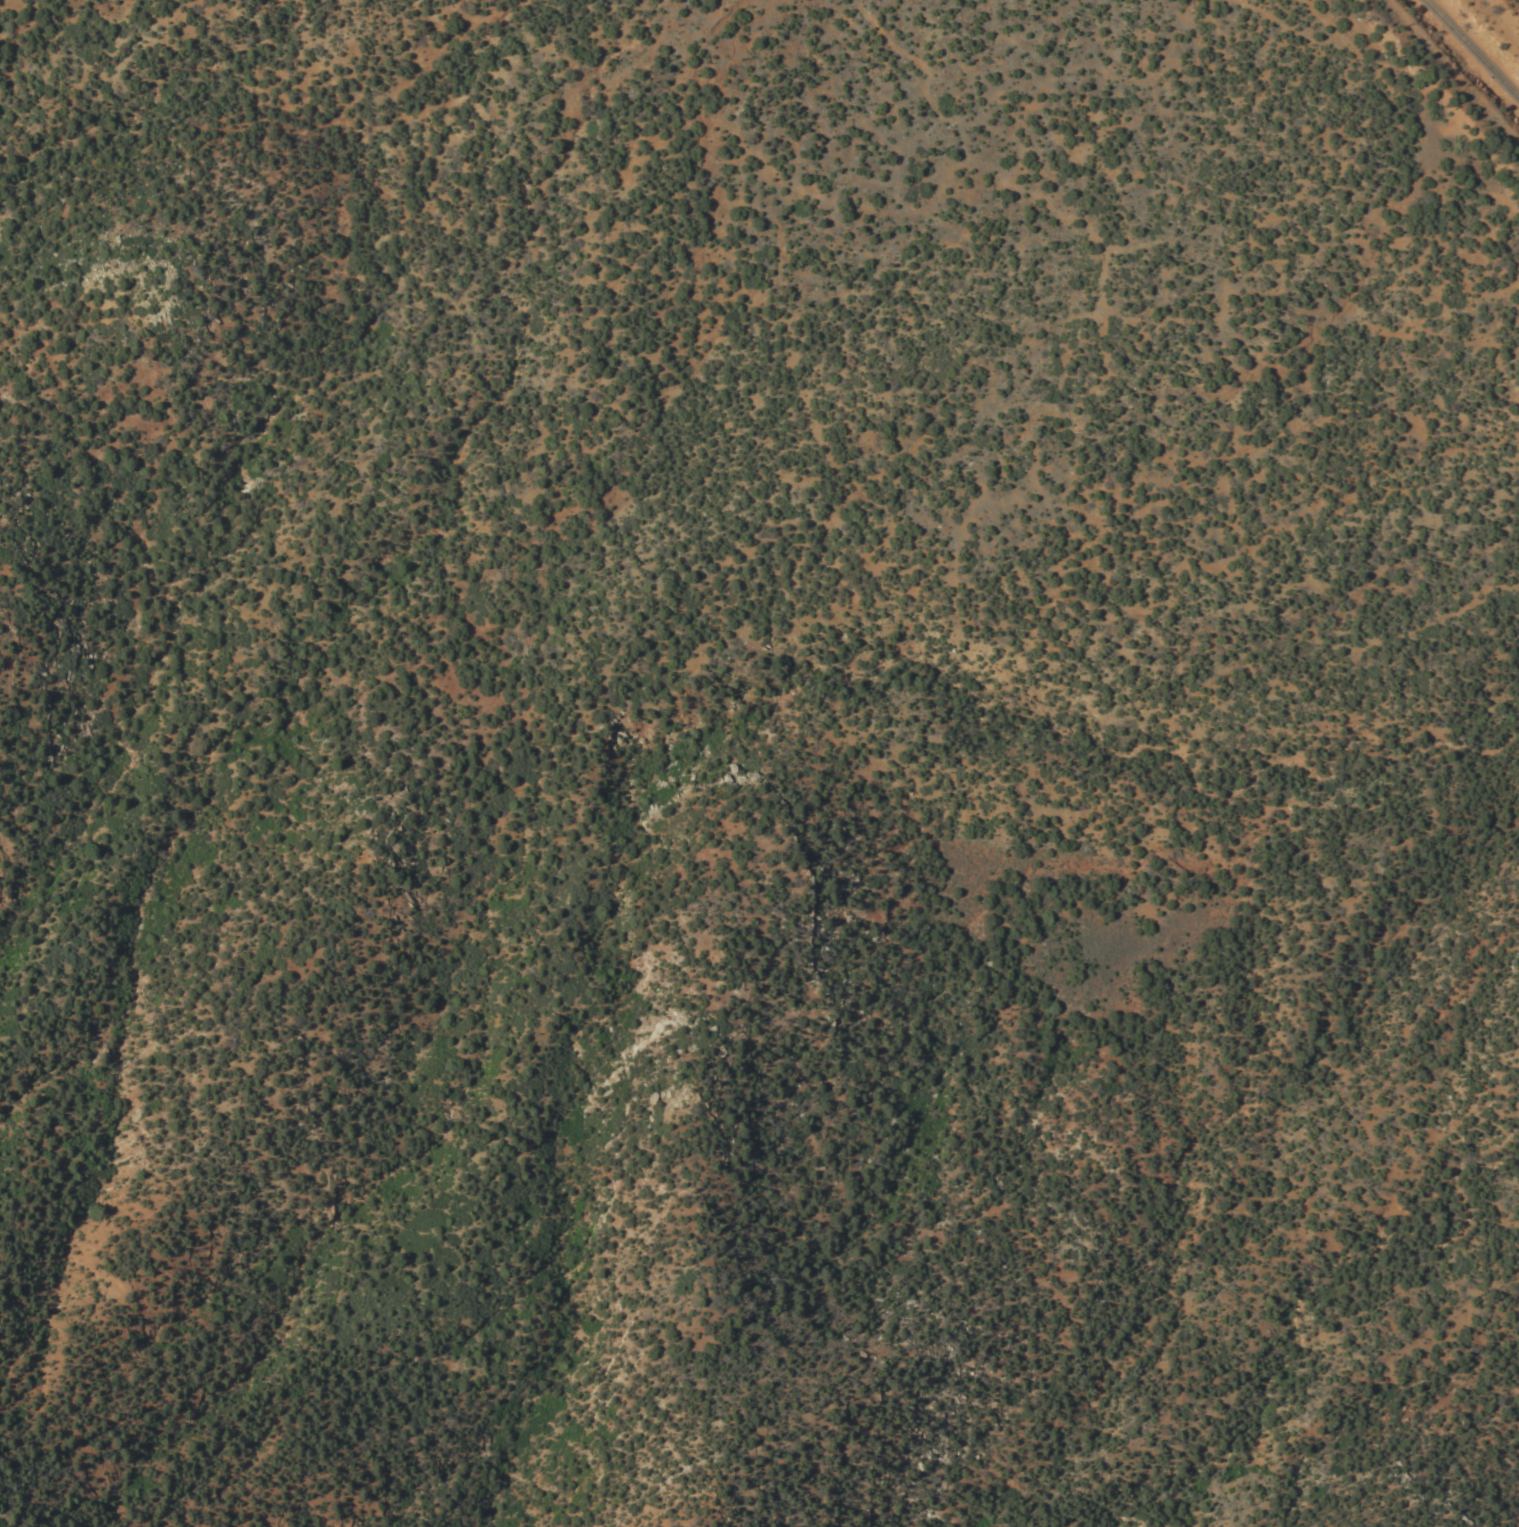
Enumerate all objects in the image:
railway: (1473, 48)

